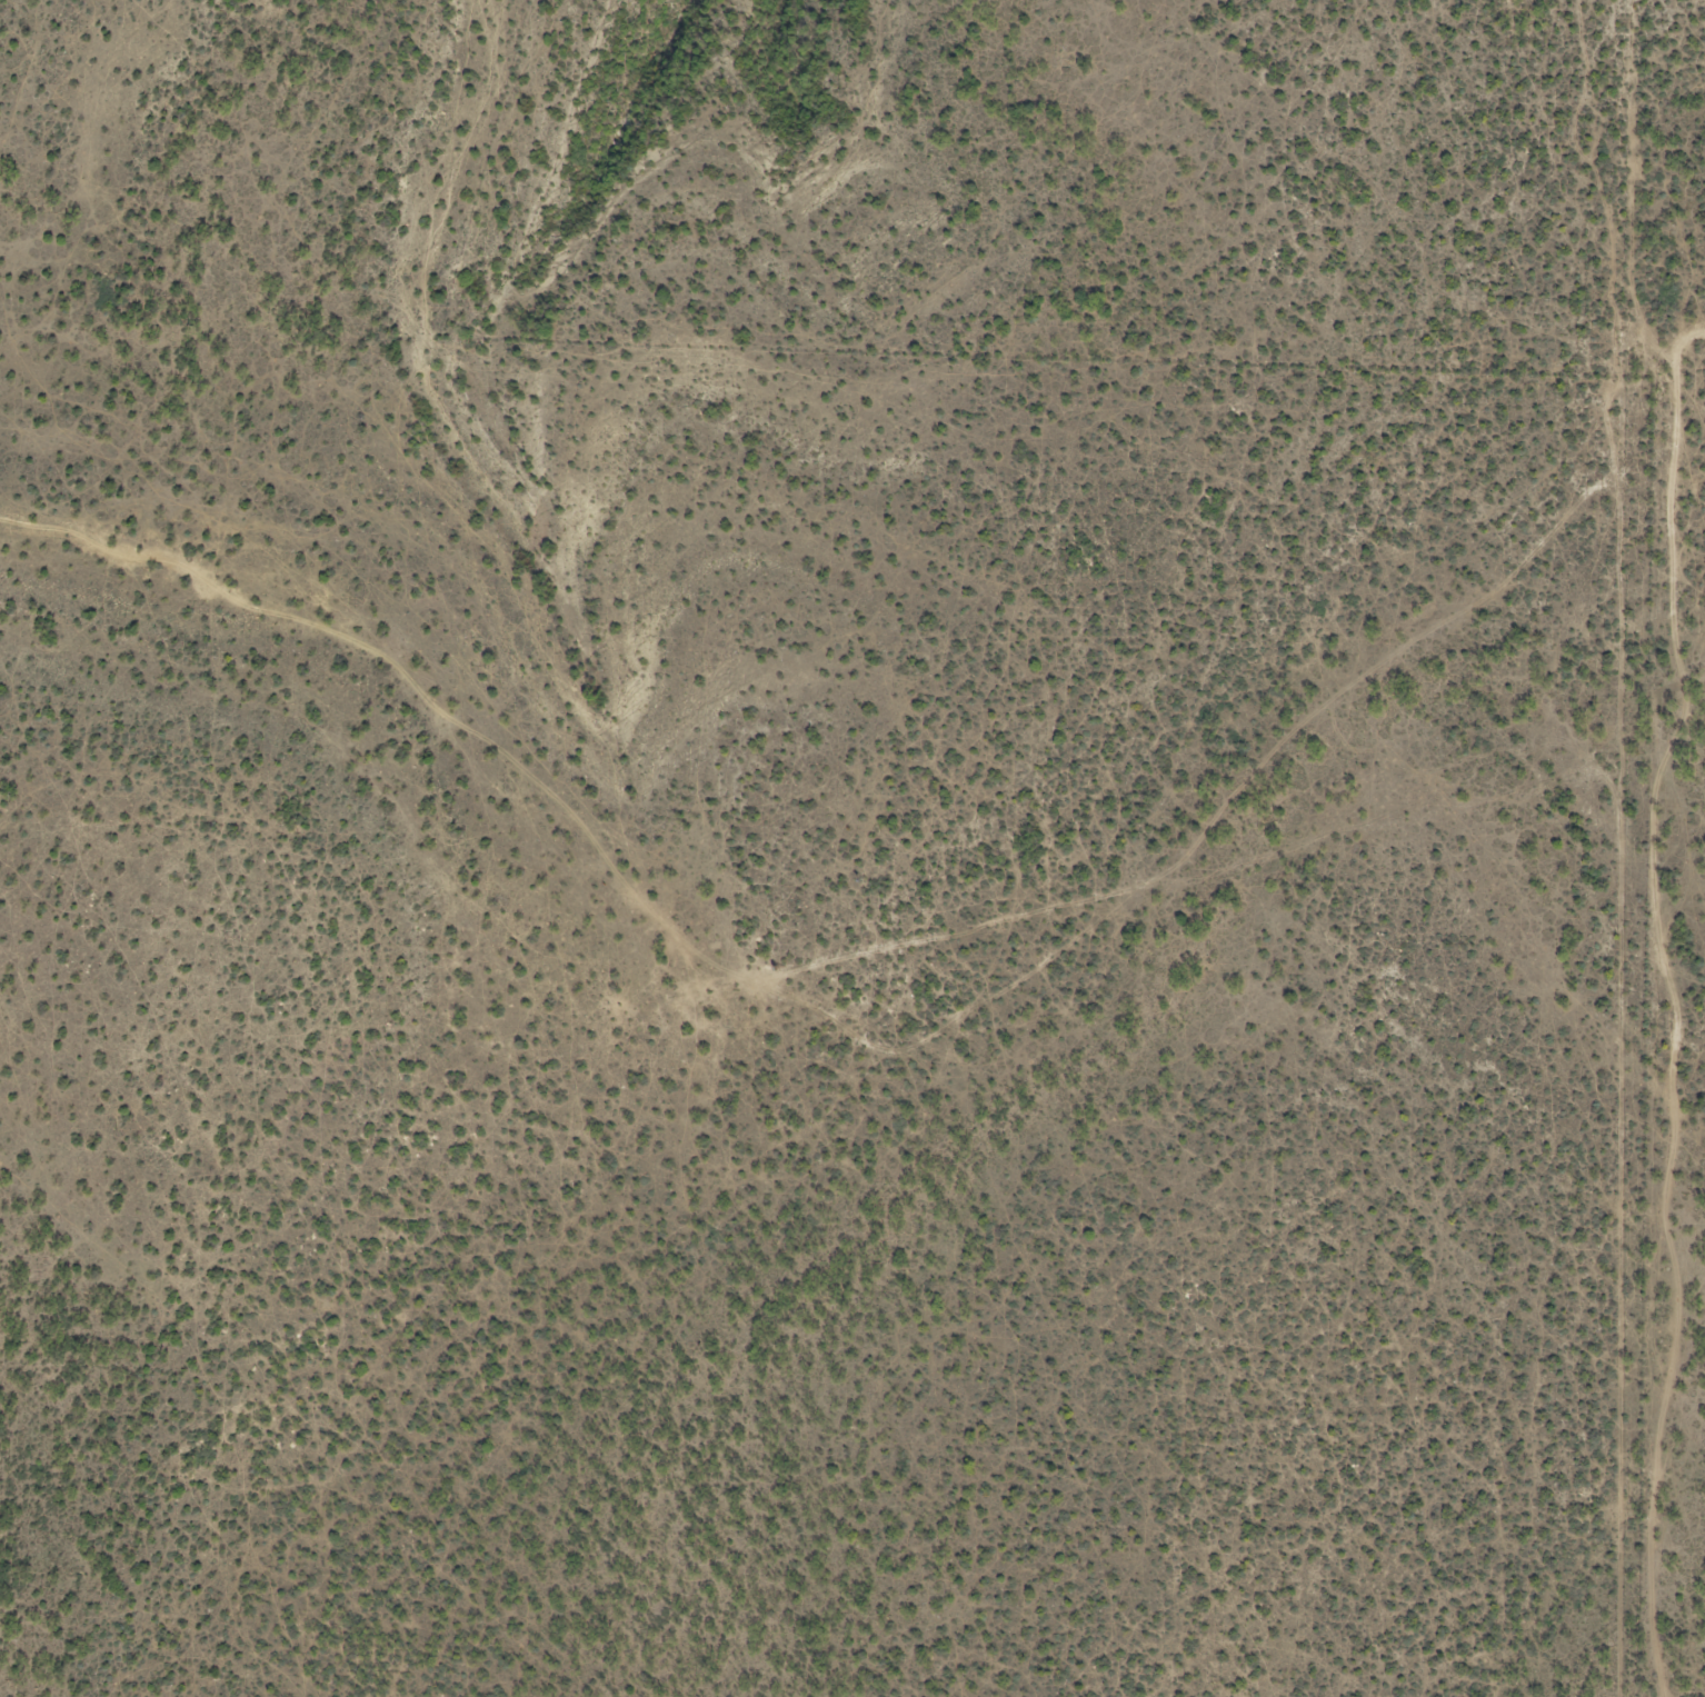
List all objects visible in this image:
road: (910, 1014)

